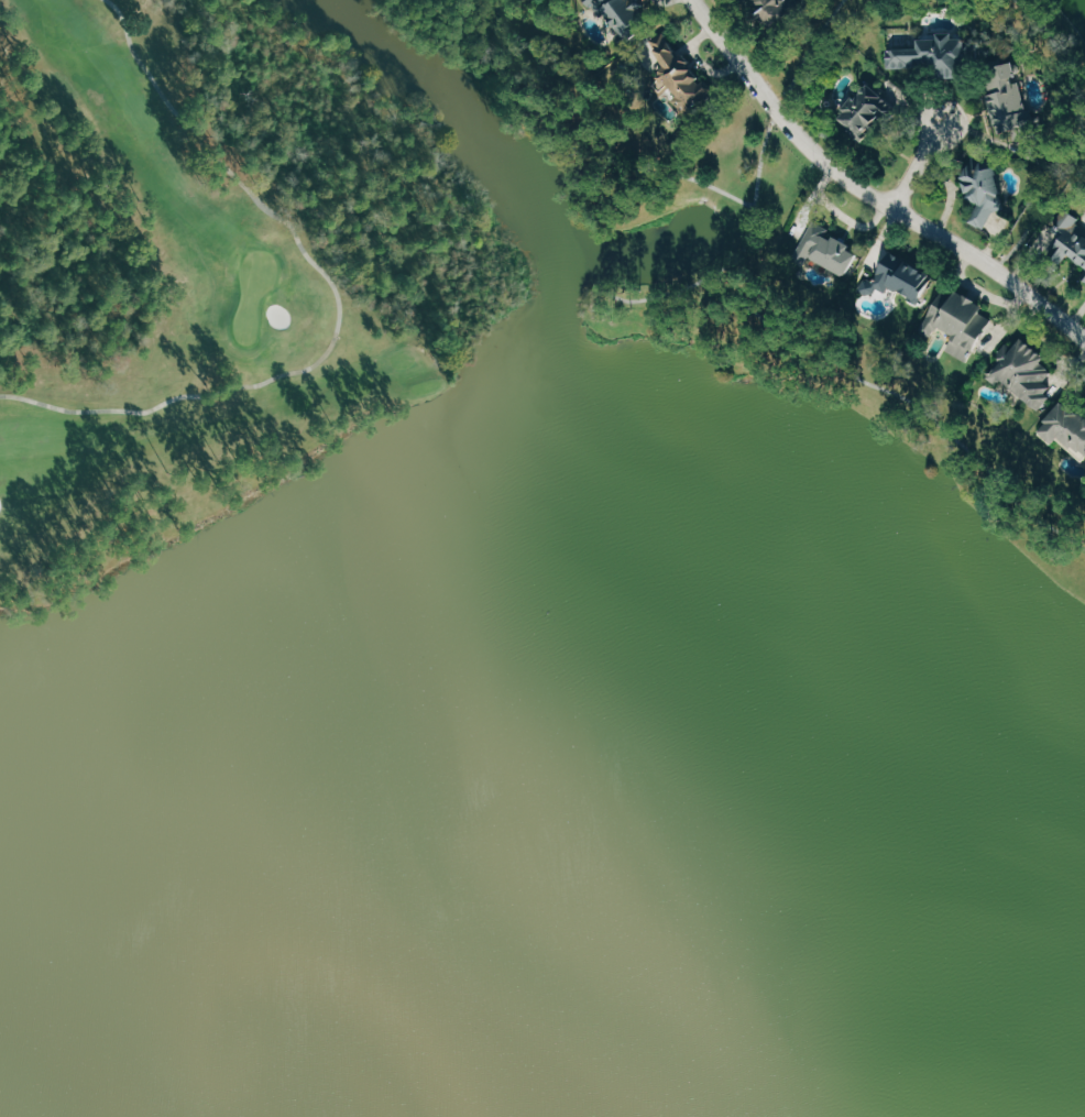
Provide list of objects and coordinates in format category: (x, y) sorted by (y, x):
building: (618, 11)
building: (774, 11)
building: (936, 56)
road: (1064, 65)
building: (675, 76)
road: (782, 96)
building: (1011, 101)
building: (868, 112)
road: (594, 138)
road: (917, 166)
building: (977, 186)
road: (868, 190)
building: (1064, 239)
building: (822, 248)
building: (894, 278)
park: (252, 291)
road: (658, 294)
road: (341, 305)
building: (952, 322)
park: (186, 347)
building: (1017, 372)
road: (863, 380)
building: (1063, 427)

